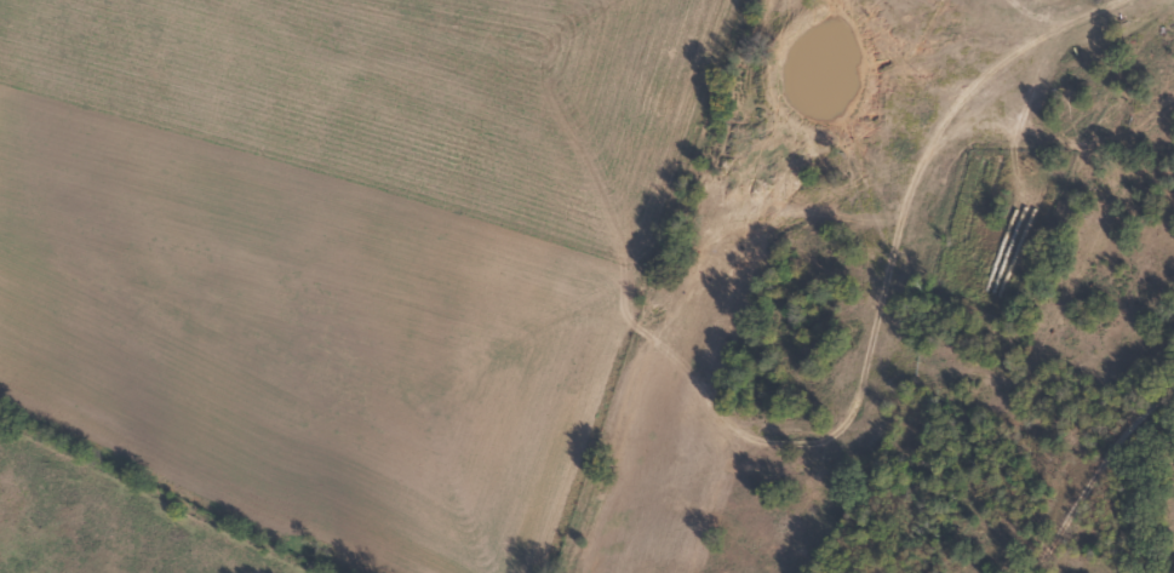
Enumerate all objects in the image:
road: (1106, 465)

